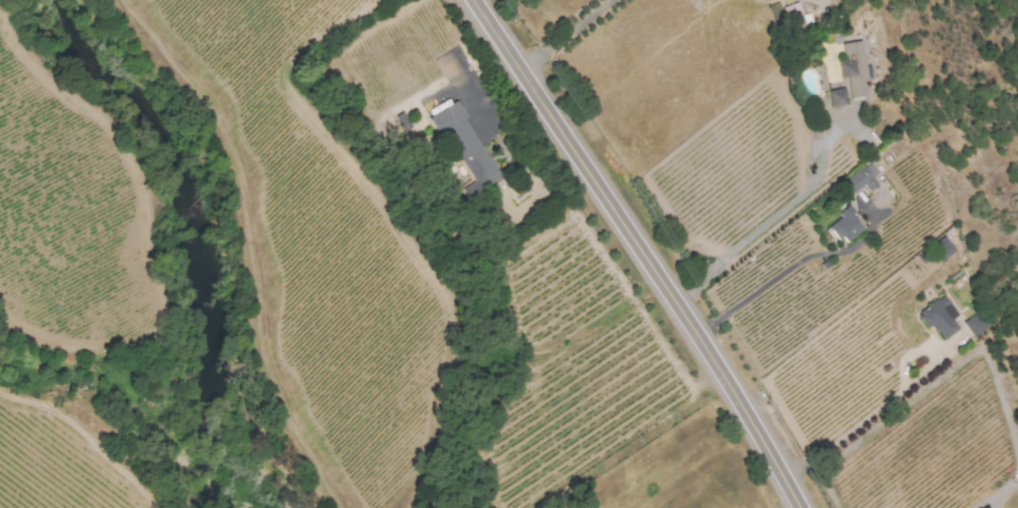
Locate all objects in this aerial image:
building: (797, 18)
road: (559, 32)
building: (854, 68)
building: (836, 97)
building: (861, 178)
road: (767, 220)
building: (845, 226)
river: (201, 233)
building: (941, 248)
road: (640, 251)
road: (786, 271)
building: (940, 317)
building: (975, 324)
road: (869, 417)
road: (795, 506)

